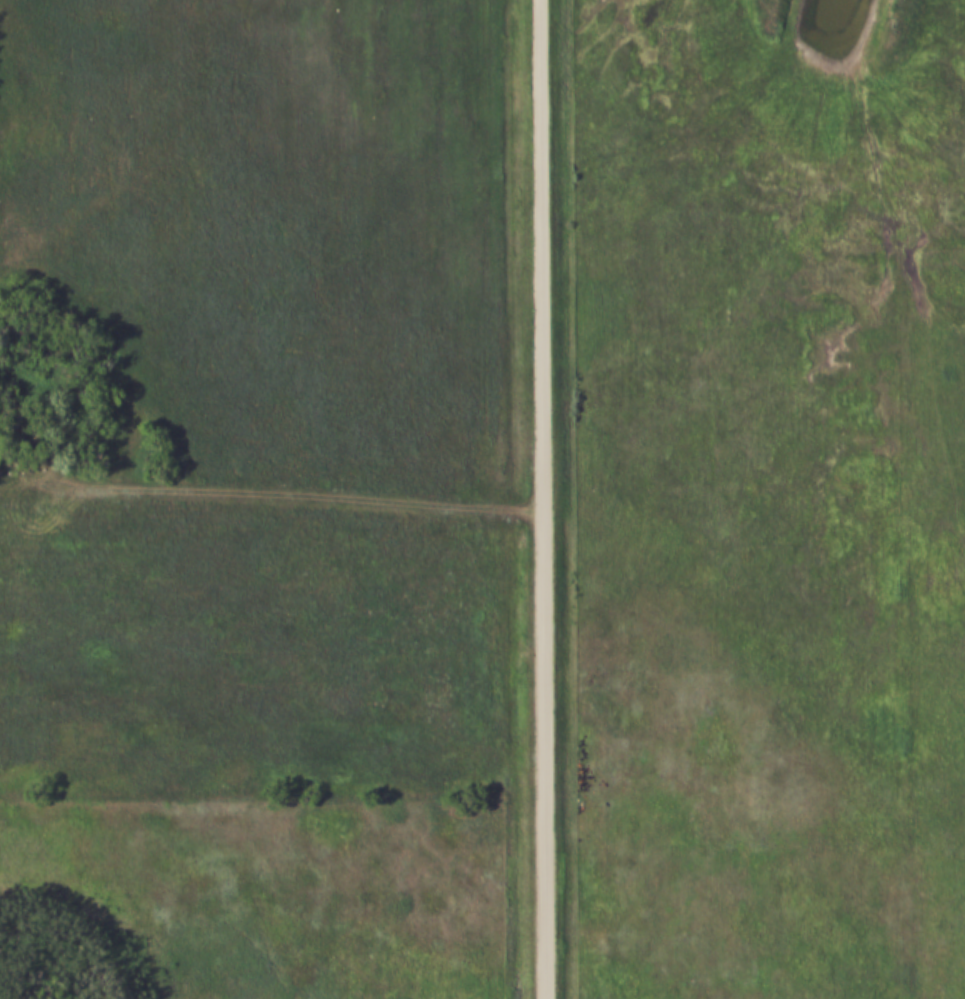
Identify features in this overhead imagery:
road: (270, 488)
road: (539, 499)

